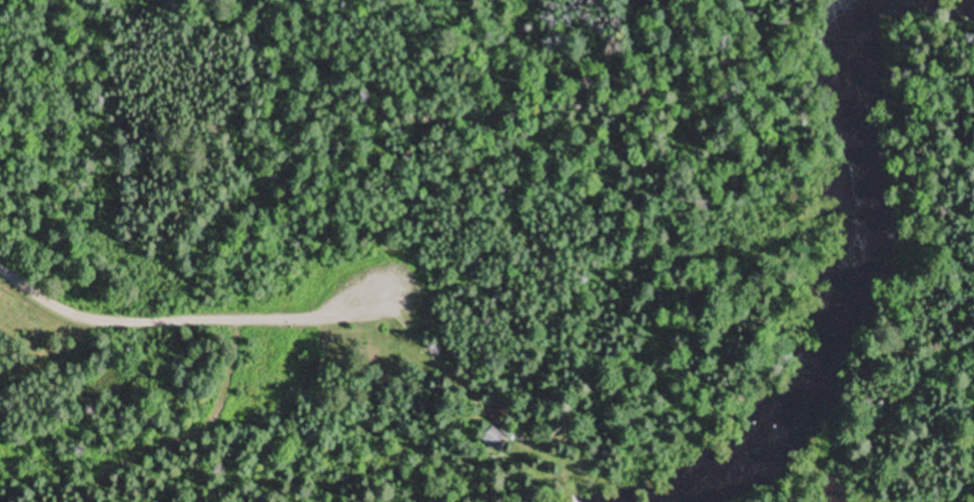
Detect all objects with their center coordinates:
river: (970, 0)
river: (848, 220)
road: (186, 316)
building: (492, 439)
river: (713, 477)

